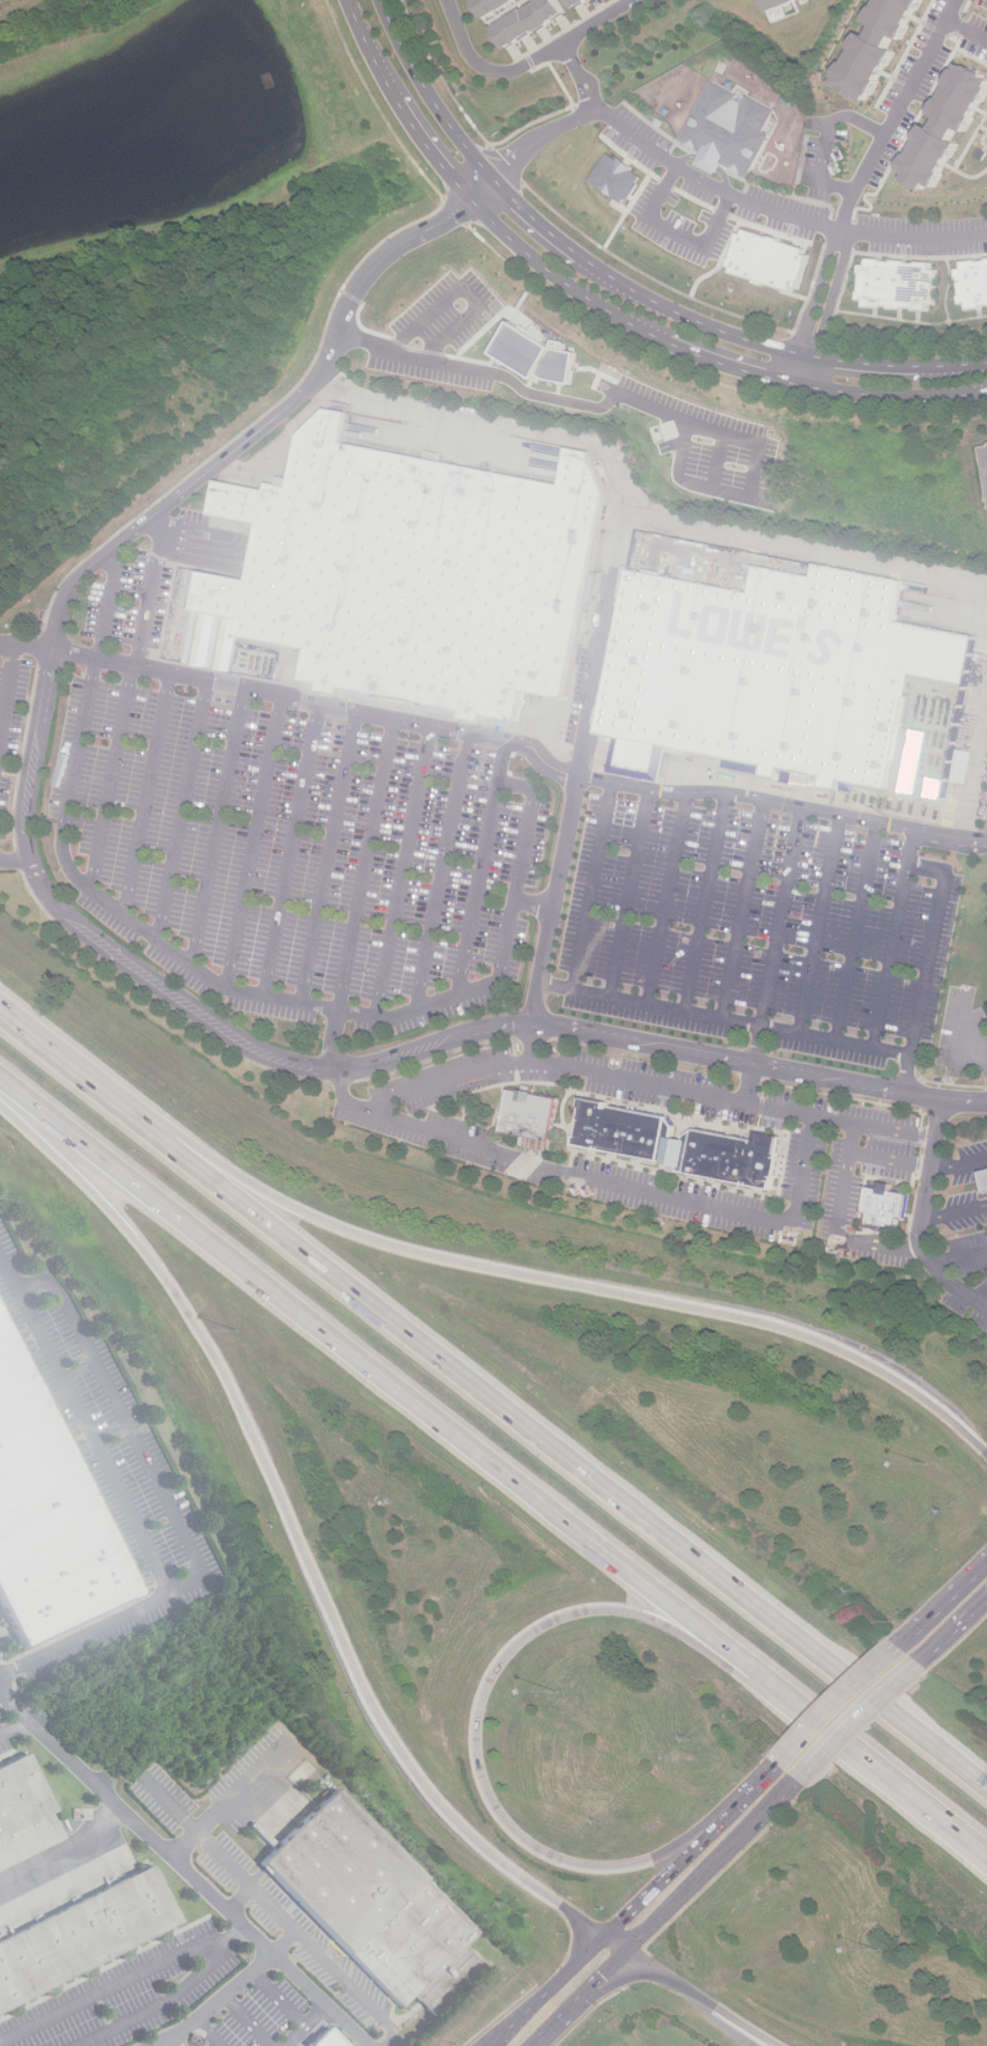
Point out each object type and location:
building: (577, 3)
building: (775, 4)
building: (491, 6)
building: (527, 20)
road: (965, 28)
building: (867, 47)
road: (563, 58)
road: (526, 65)
dam: (295, 69)
road: (581, 91)
road: (431, 96)
road: (402, 106)
road: (895, 113)
building: (729, 130)
building: (946, 130)
road: (545, 136)
road: (828, 139)
building: (617, 178)
road: (719, 187)
road: (485, 192)
road: (674, 230)
road: (915, 237)
building: (769, 260)
road: (563, 283)
building: (898, 283)
building: (974, 283)
road: (466, 286)
road: (817, 290)
road: (837, 295)
road: (586, 319)
road: (720, 329)
building: (536, 355)
road: (737, 371)
road: (810, 373)
road: (897, 398)
road: (635, 401)
road: (718, 461)
road: (635, 502)
building: (419, 572)
road: (603, 638)
building: (773, 674)
road: (10, 688)
road: (130, 699)
parking lot: (14, 715)
road: (506, 740)
road: (973, 773)
road: (148, 796)
road: (184, 812)
road: (219, 829)
parking lot: (286, 841)
road: (255, 843)
road: (293, 851)
road: (330, 858)
road: (16, 862)
road: (367, 866)
road: (483, 868)
road: (443, 872)
road: (404, 873)
road: (592, 887)
road: (631, 894)
road: (668, 900)
road: (707, 903)
road: (536, 906)
road: (744, 911)
road: (553, 919)
road: (783, 919)
road: (820, 926)
parking lot: (760, 932)
road: (858, 933)
road: (91, 937)
road: (895, 941)
road: (219, 985)
road: (557, 986)
parking lot: (963, 1033)
road: (964, 1033)
road: (851, 1045)
road: (58, 1054)
road: (334, 1055)
road: (986, 1060)
road: (754, 1066)
road: (907, 1075)
road: (648, 1084)
building: (530, 1114)
building: (627, 1131)
building: (733, 1158)
parking lot: (854, 1163)
road: (959, 1164)
building: (985, 1179)
road: (619, 1187)
road: (926, 1197)
building: (886, 1207)
road: (955, 1211)
road: (839, 1226)
parking lot: (965, 1236)
road: (959, 1257)
road: (552, 1281)
road: (968, 1296)
road: (982, 1297)
road: (127, 1429)
road: (550, 1444)
parking lot: (106, 1462)
road: (493, 1464)
road: (125, 1509)
building: (46, 1519)
road: (294, 1531)
road: (943, 1605)
road: (957, 1625)
road: (521, 1638)
road: (840, 1707)
road: (863, 1718)
road: (14, 1728)
parking lot: (4, 1742)
parking lot: (247, 1762)
road: (765, 1782)
building: (21, 1796)
road: (232, 1799)
road: (65, 1854)
road: (713, 1867)
road: (184, 1868)
road: (677, 1868)
parking lot: (262, 1898)
road: (241, 1899)
building: (375, 1905)
road: (274, 1909)
building: (83, 1937)
traffic signals: (605, 1938)
road: (285, 1943)
road: (615, 1945)
traffic signals: (626, 1953)
road: (125, 1981)
road: (548, 1992)
parking lot: (128, 1995)
road: (701, 1998)
road: (279, 1999)
road: (582, 2000)
road: (215, 2002)
road: (157, 2006)
parking lot: (266, 2019)
road: (247, 2021)
road: (305, 2025)
road: (210, 2032)
building: (327, 2039)
road: (176, 2041)

